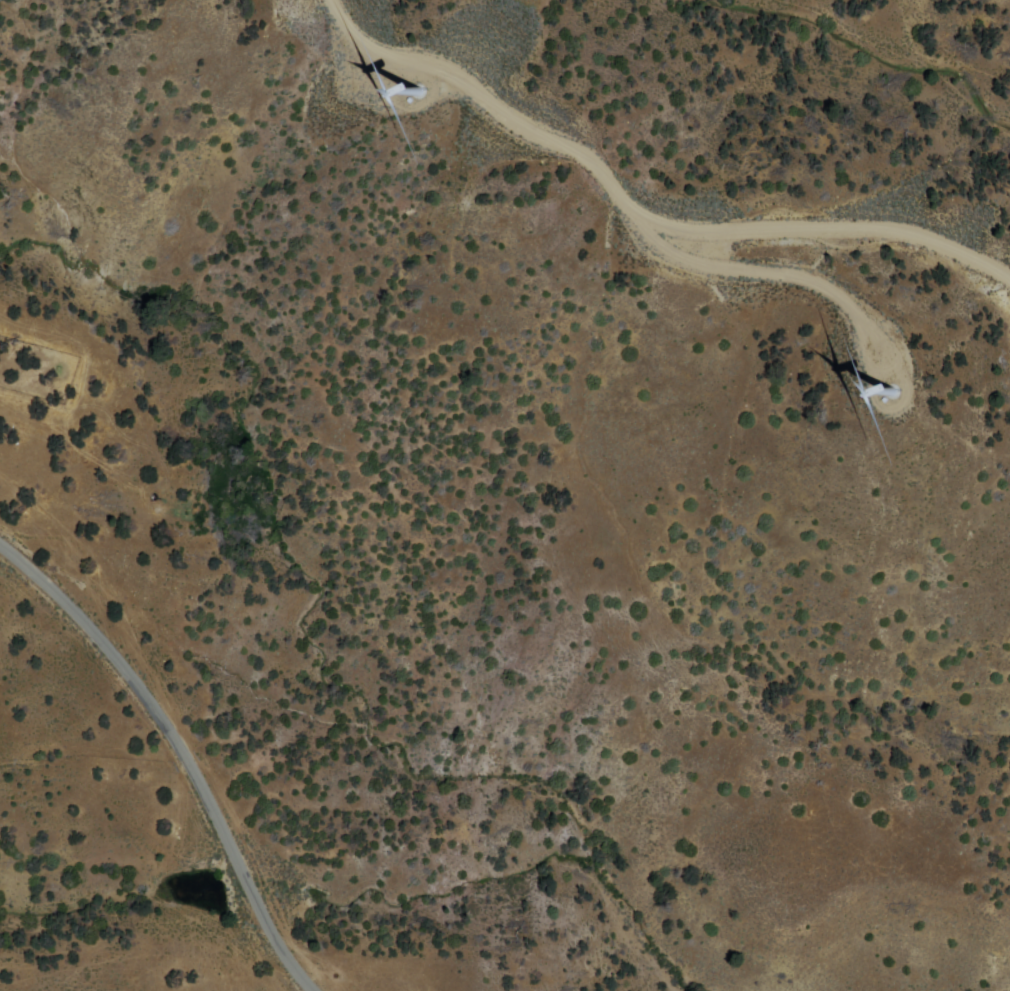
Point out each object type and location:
wind turbine: (402, 83)
wind turbine: (894, 390)
road: (174, 751)

